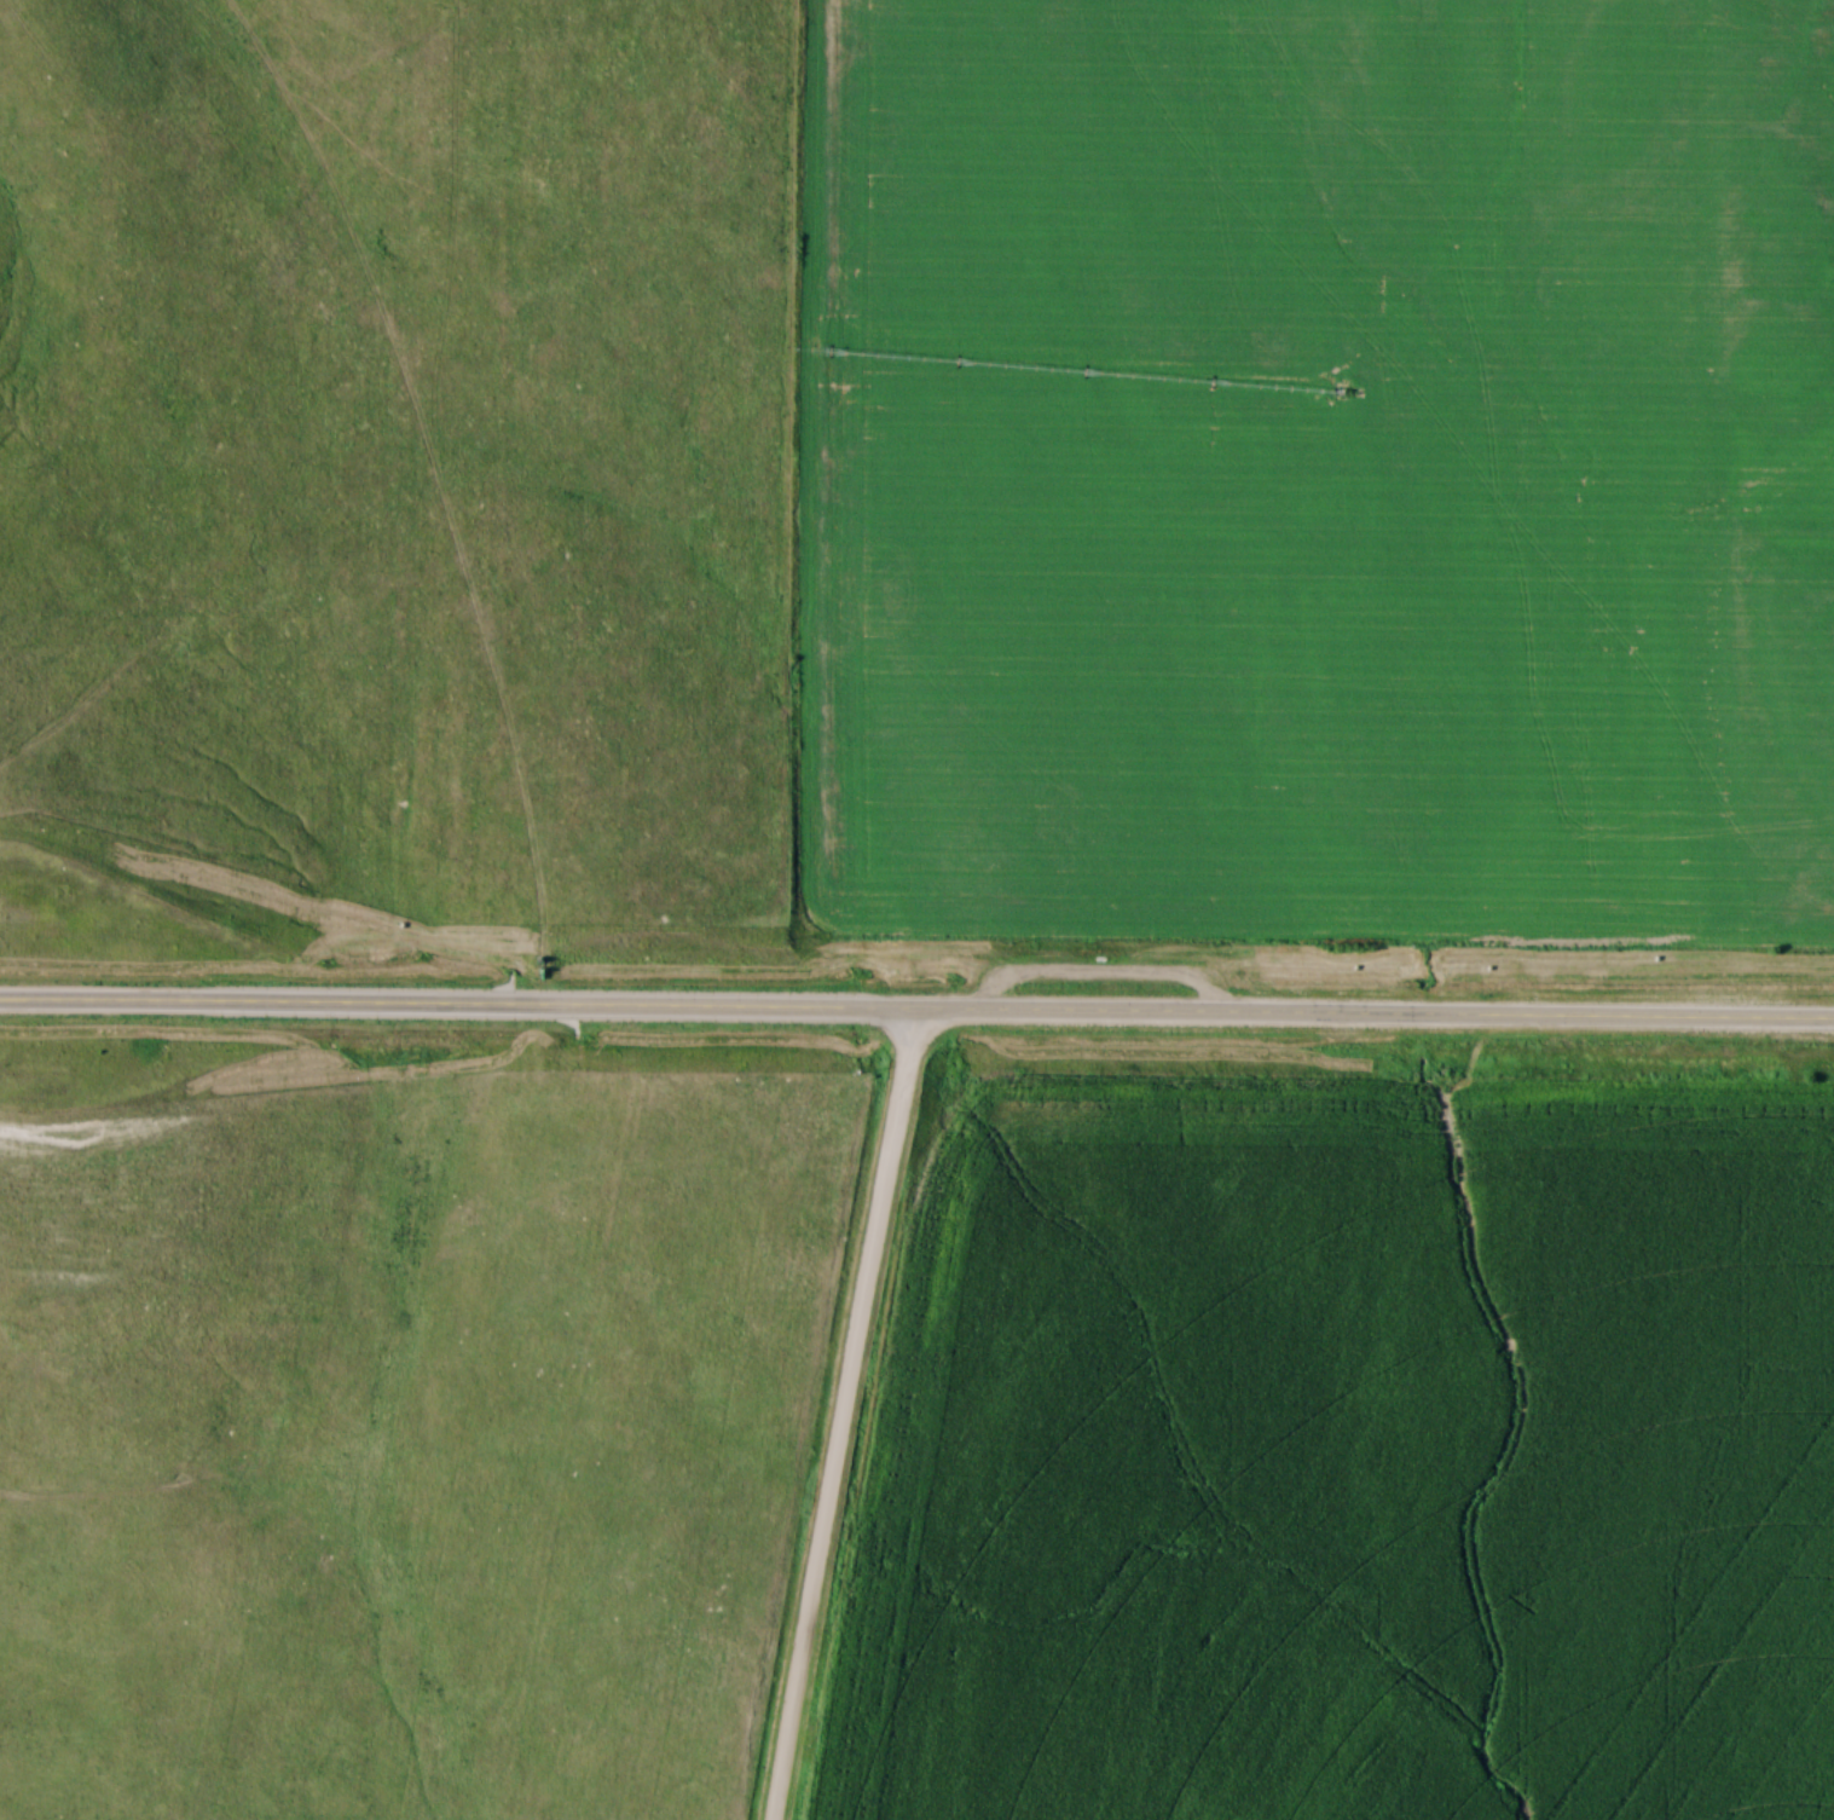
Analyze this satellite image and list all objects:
road: (916, 1005)
road: (850, 1412)

